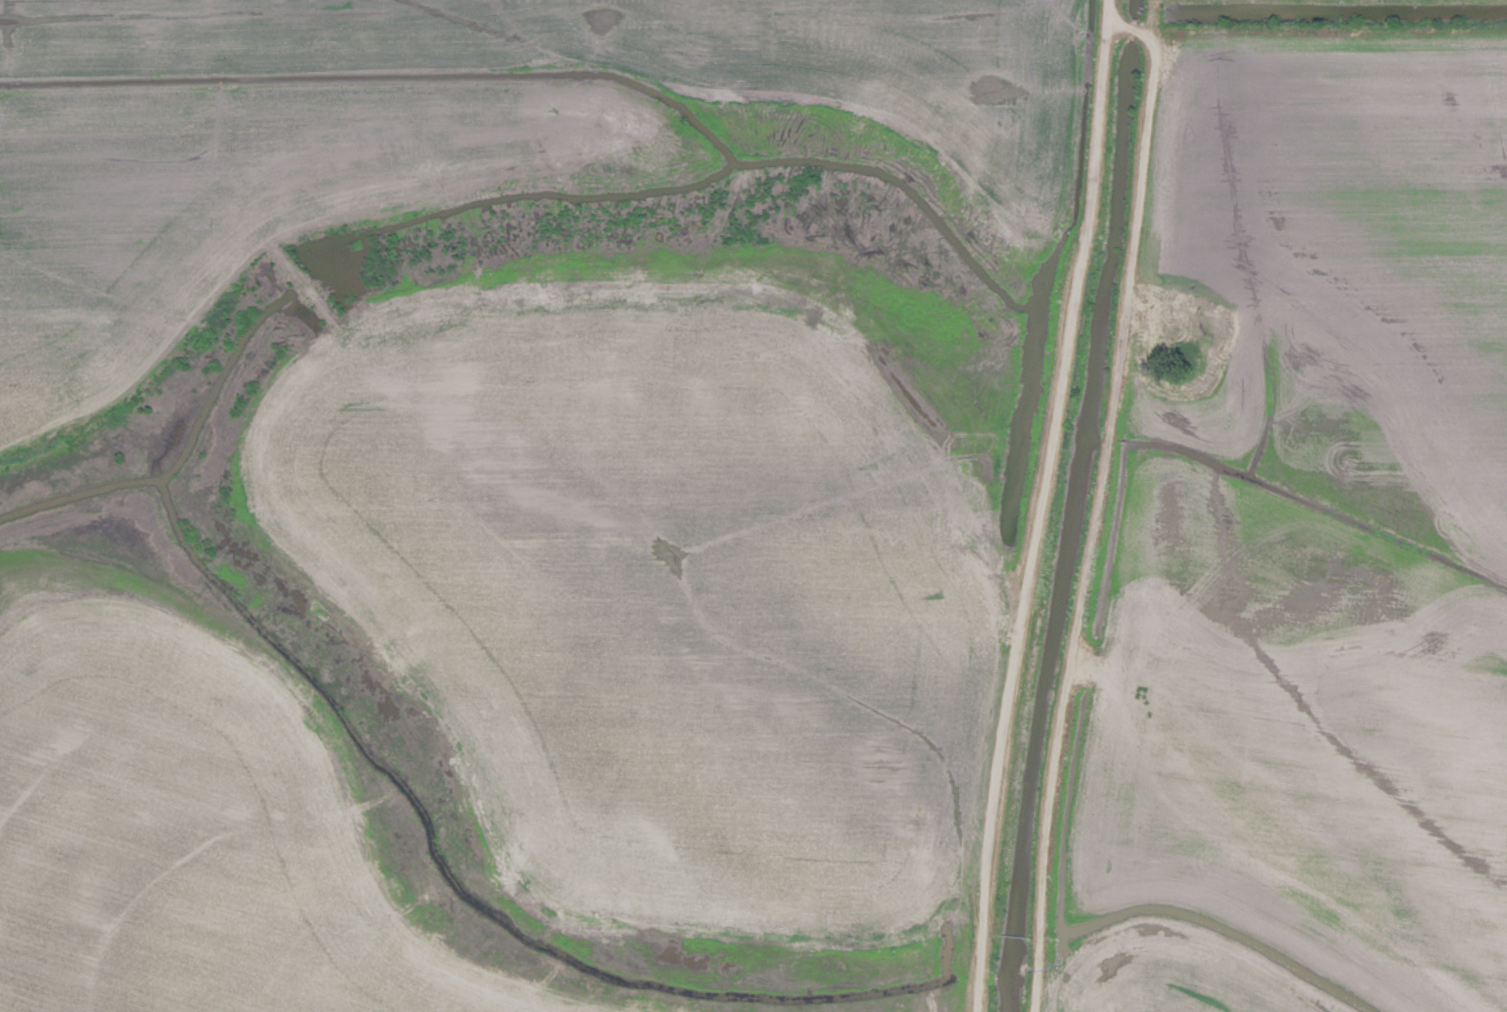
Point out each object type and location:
road: (1089, 32)
road: (1297, 60)
road: (1012, 537)

